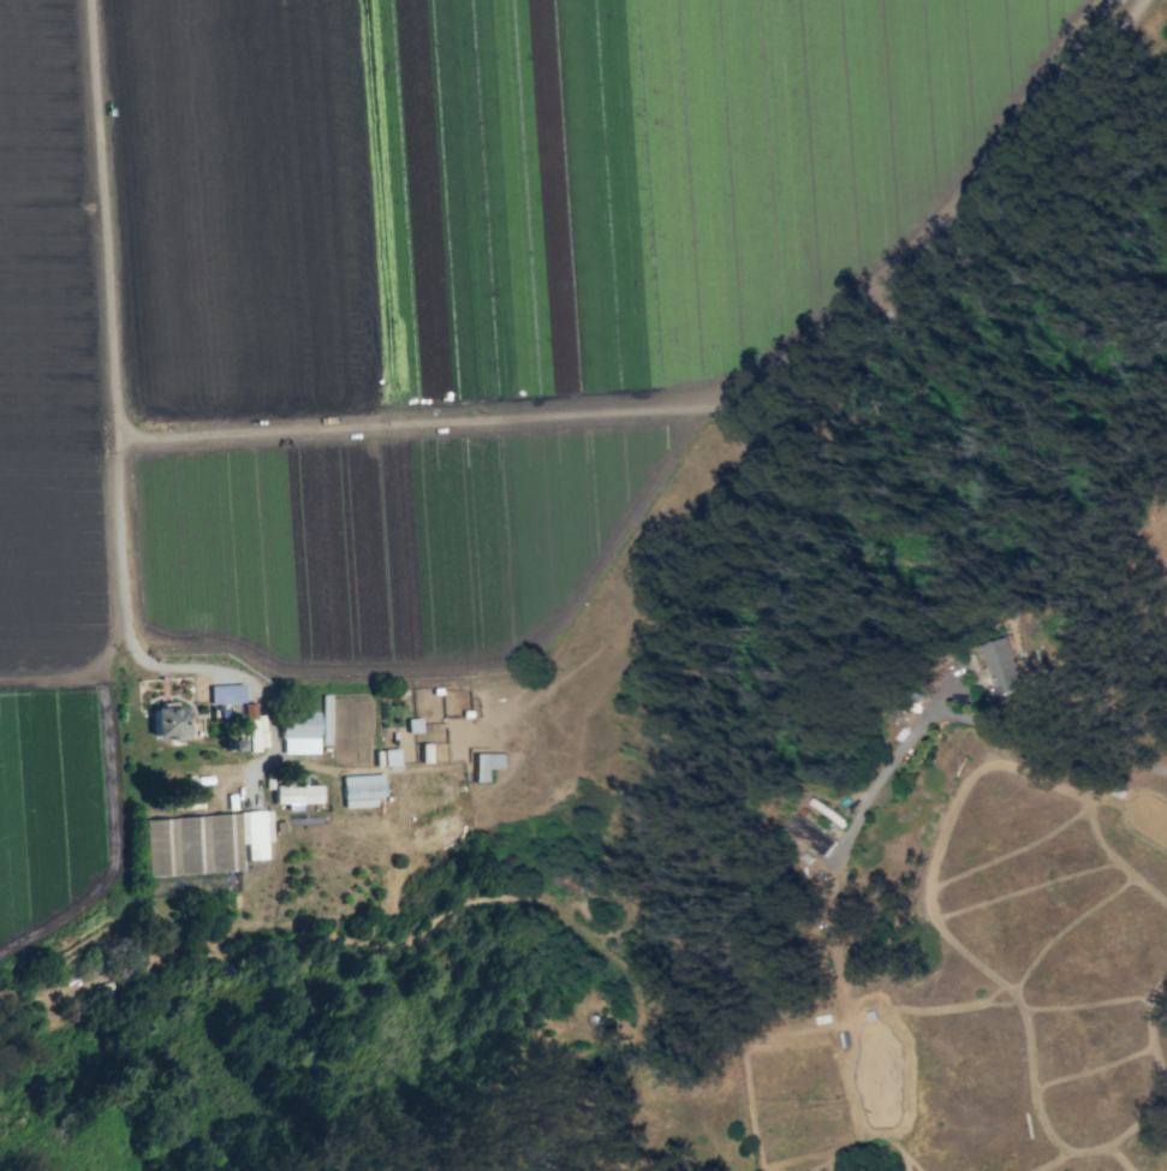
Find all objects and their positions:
road: (103, 214)
crop: (412, 326)
road: (718, 405)
building: (1004, 665)
road: (145, 667)
building: (225, 694)
road: (963, 719)
building: (167, 720)
building: (412, 725)
building: (297, 732)
building: (423, 753)
building: (389, 756)
building: (487, 765)
building: (361, 789)
building: (293, 792)
building: (186, 796)
building: (812, 836)
building: (204, 842)

